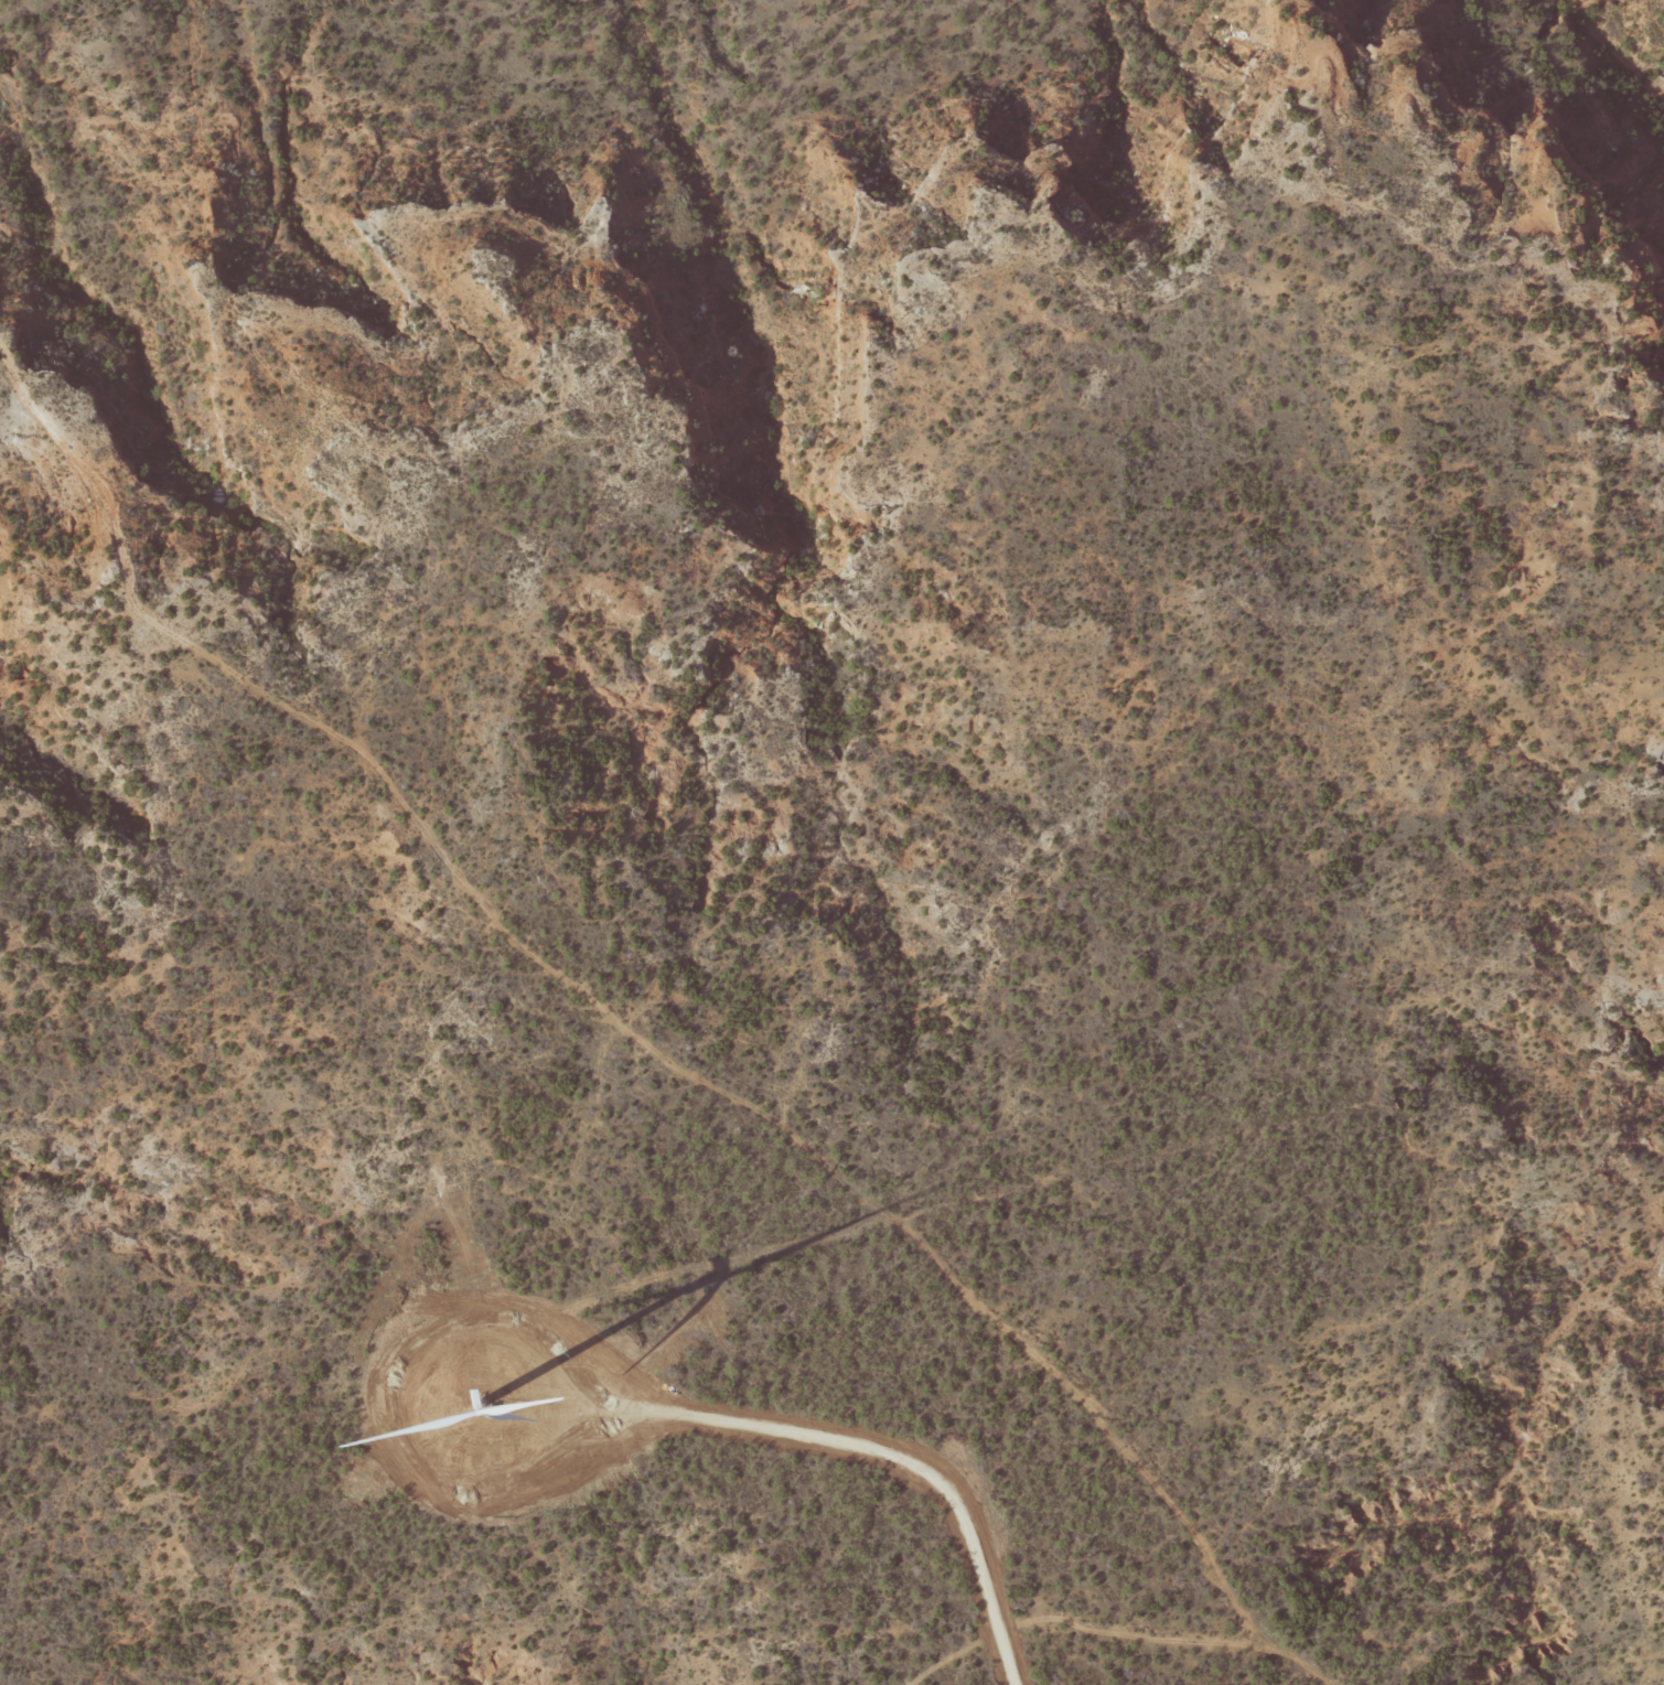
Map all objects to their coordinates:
wind turbine: (486, 1398)

